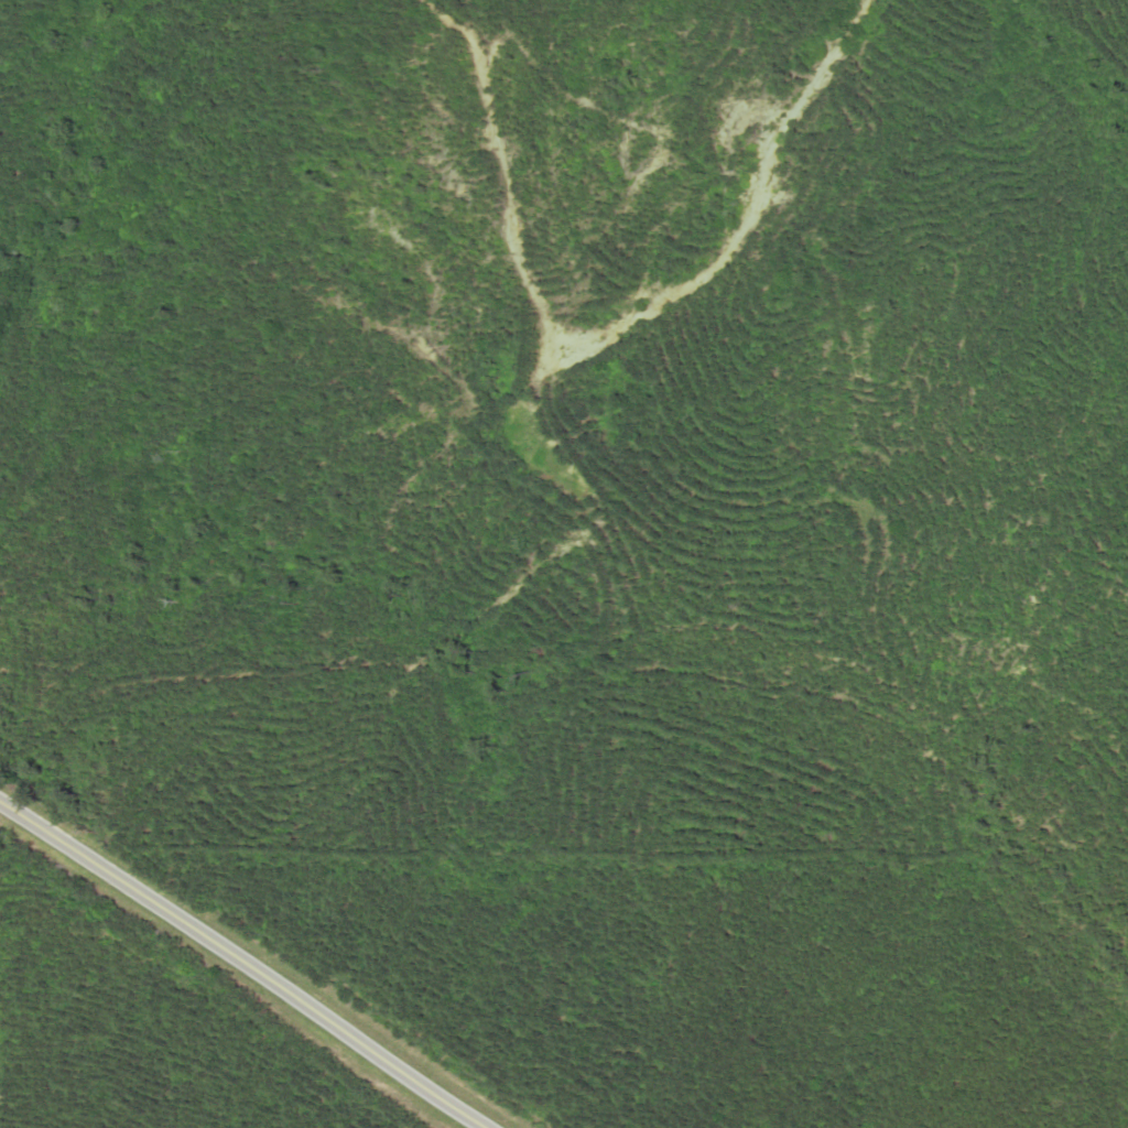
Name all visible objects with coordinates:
road: (239, 966)

